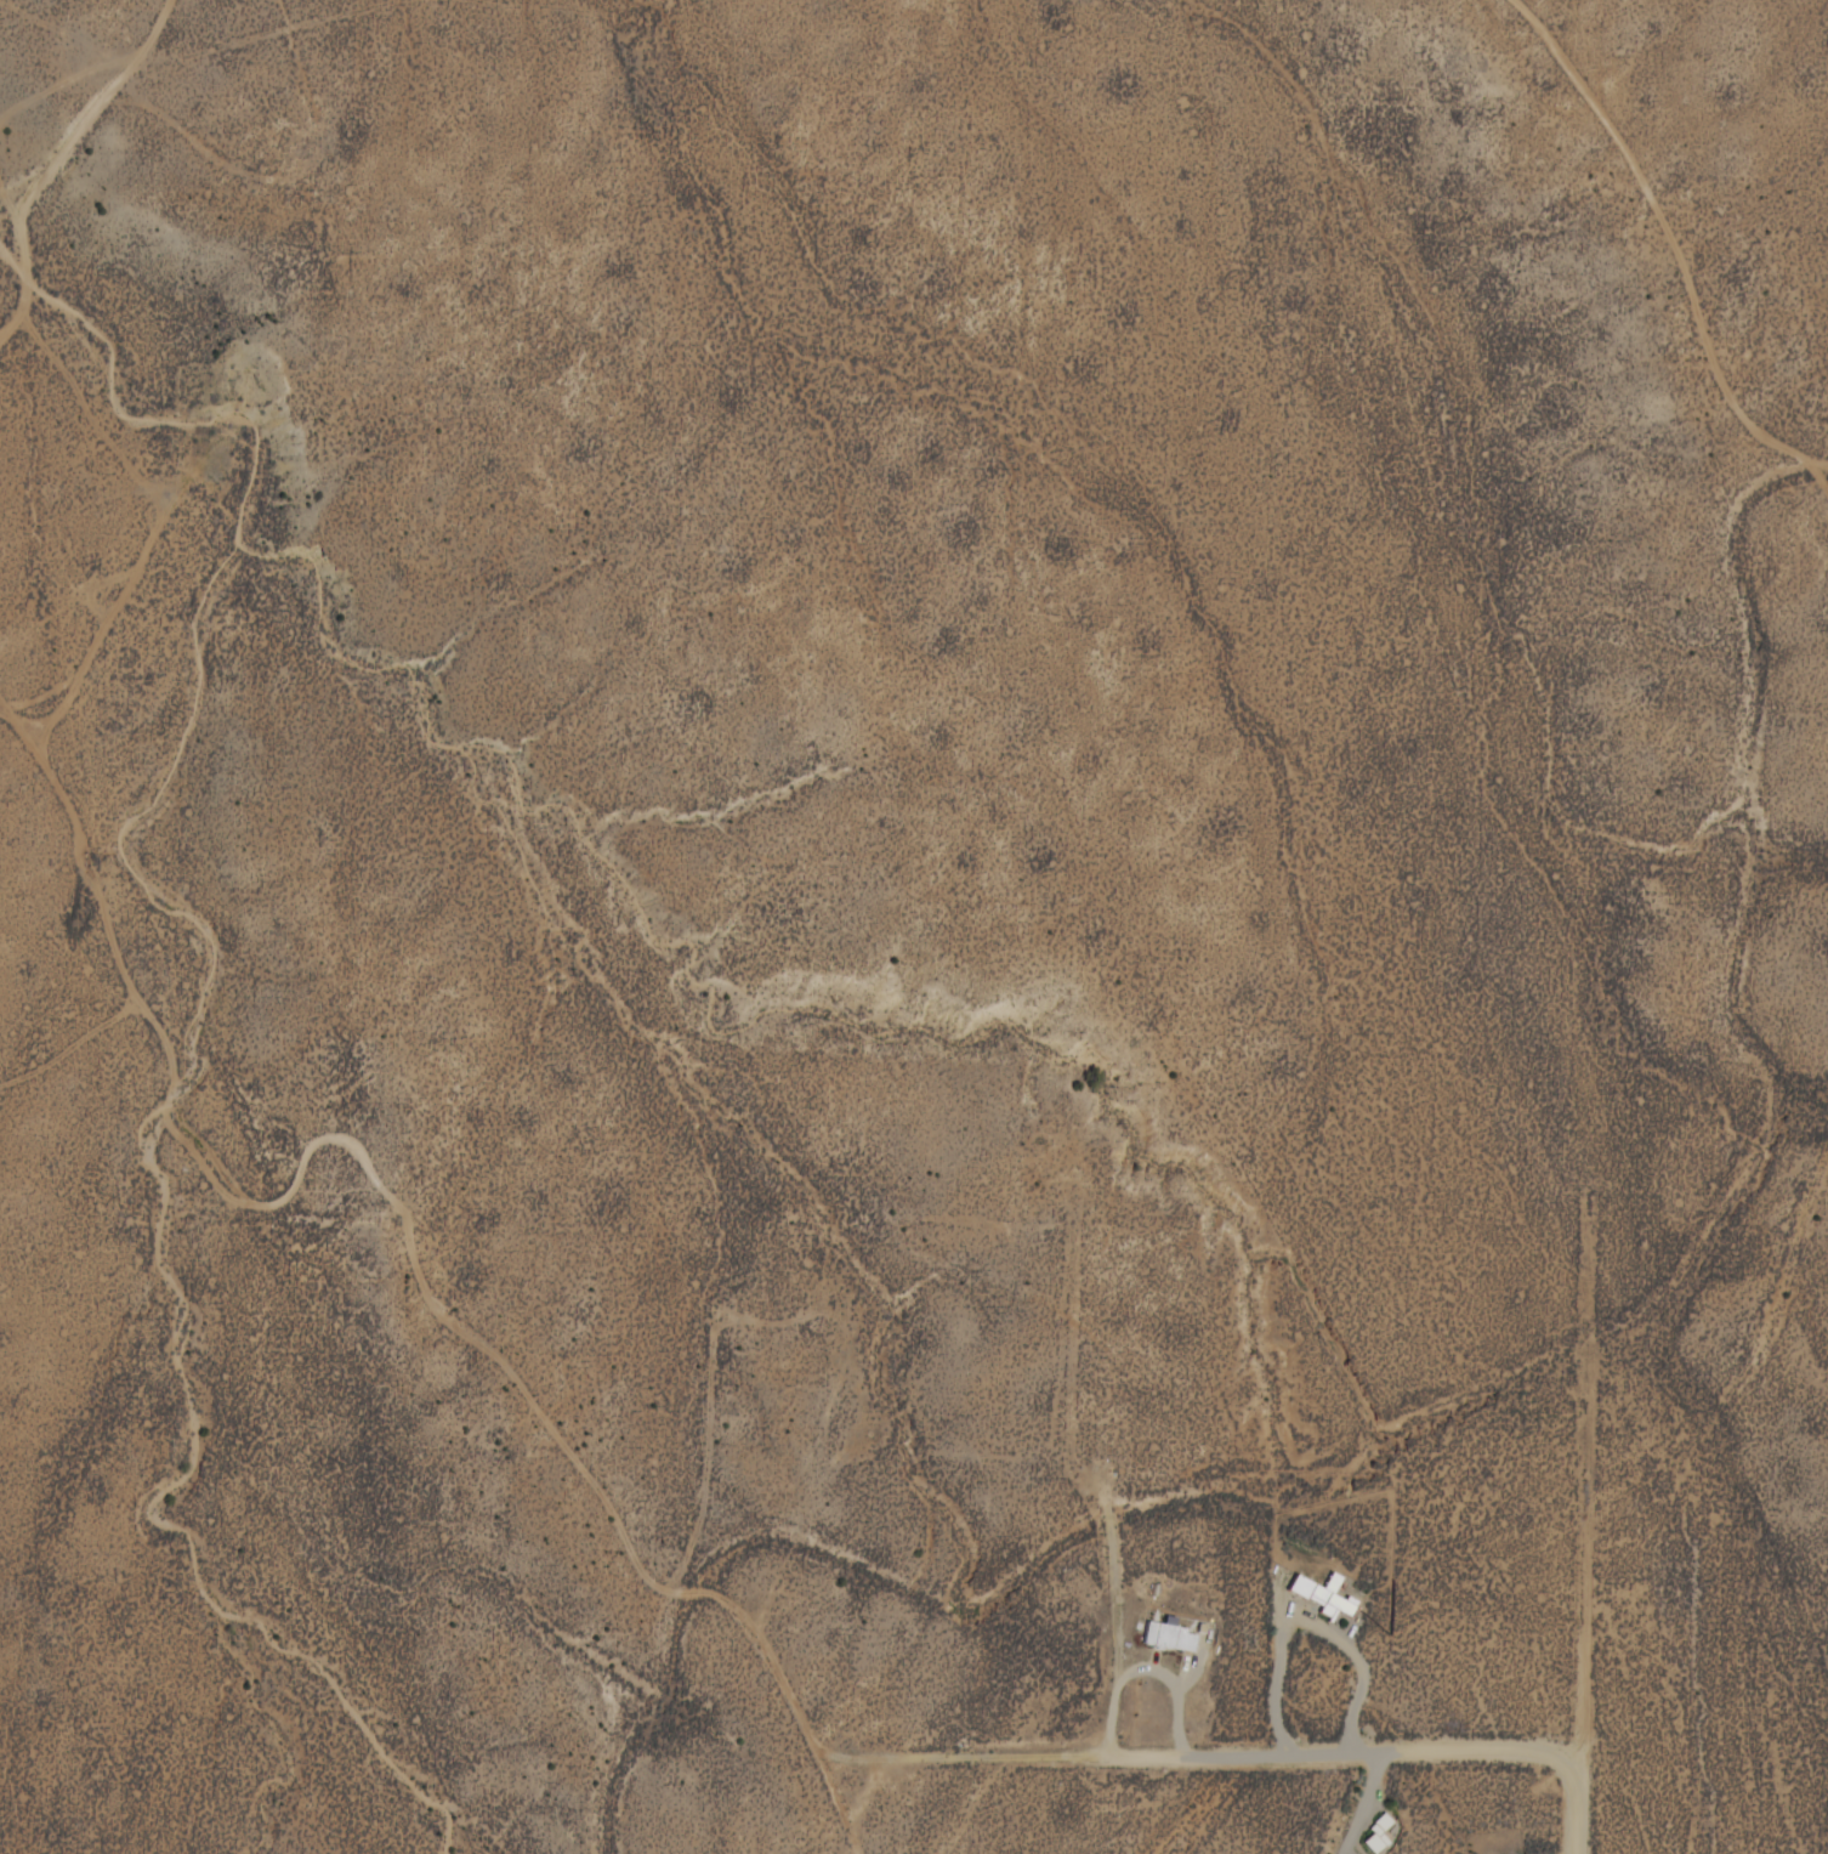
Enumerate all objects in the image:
road: (1396, 1754)

